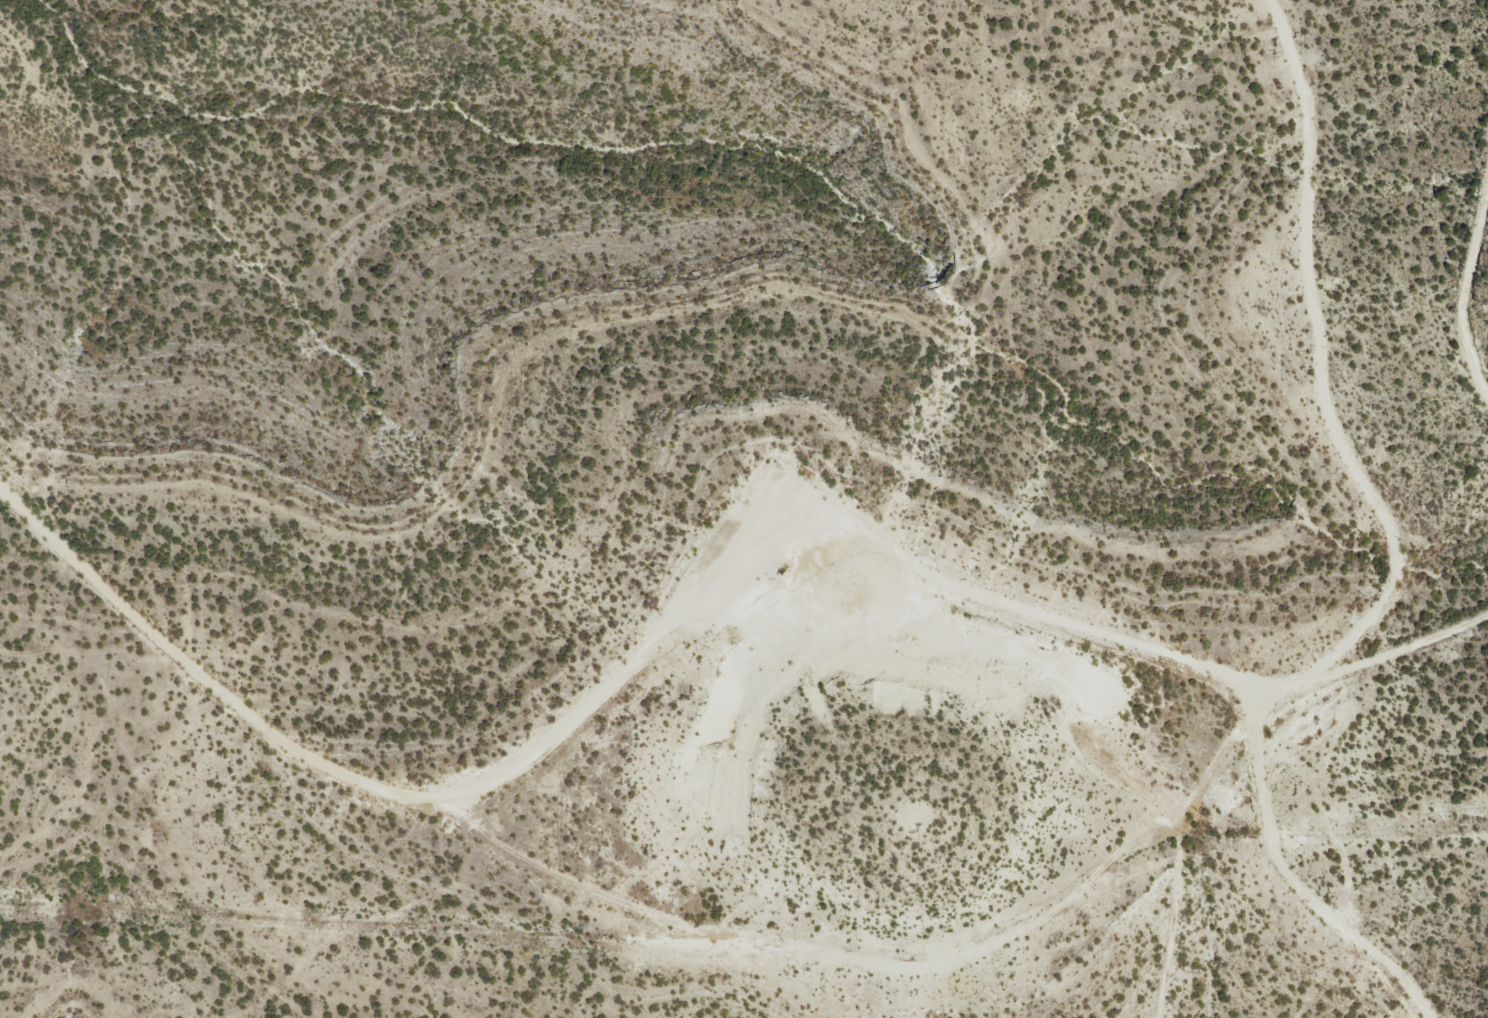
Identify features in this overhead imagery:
road: (1471, 307)
road: (1262, 776)

